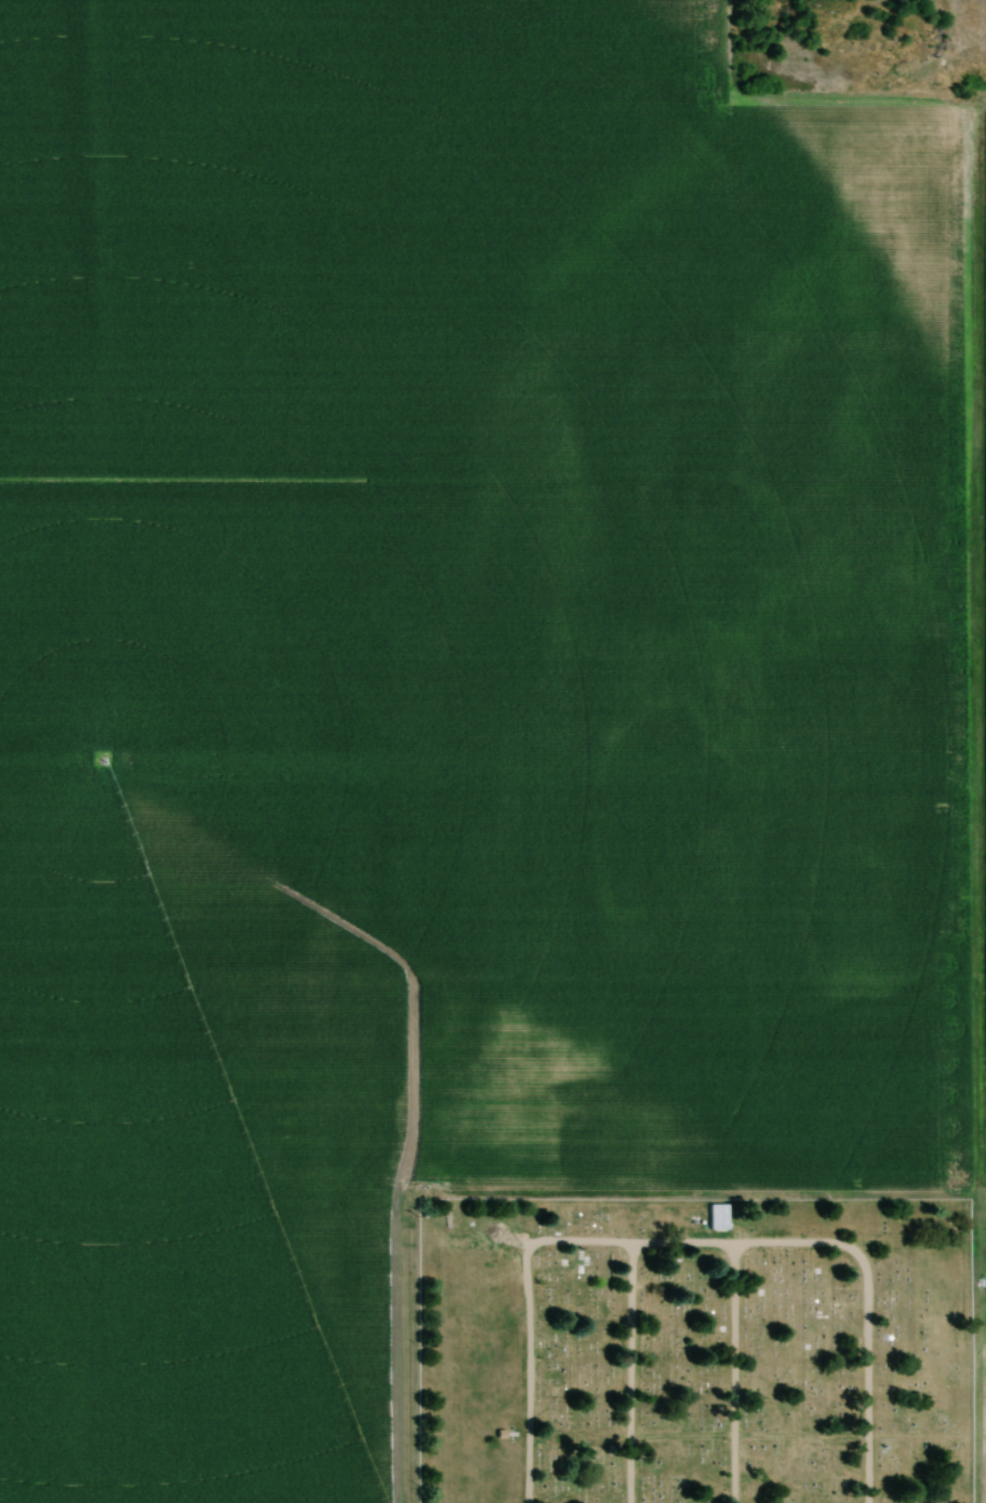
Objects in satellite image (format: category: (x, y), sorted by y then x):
building: (716, 1218)
road: (690, 1242)
park: (692, 1349)
road: (733, 1372)
road: (629, 1373)
road: (747, 1437)

